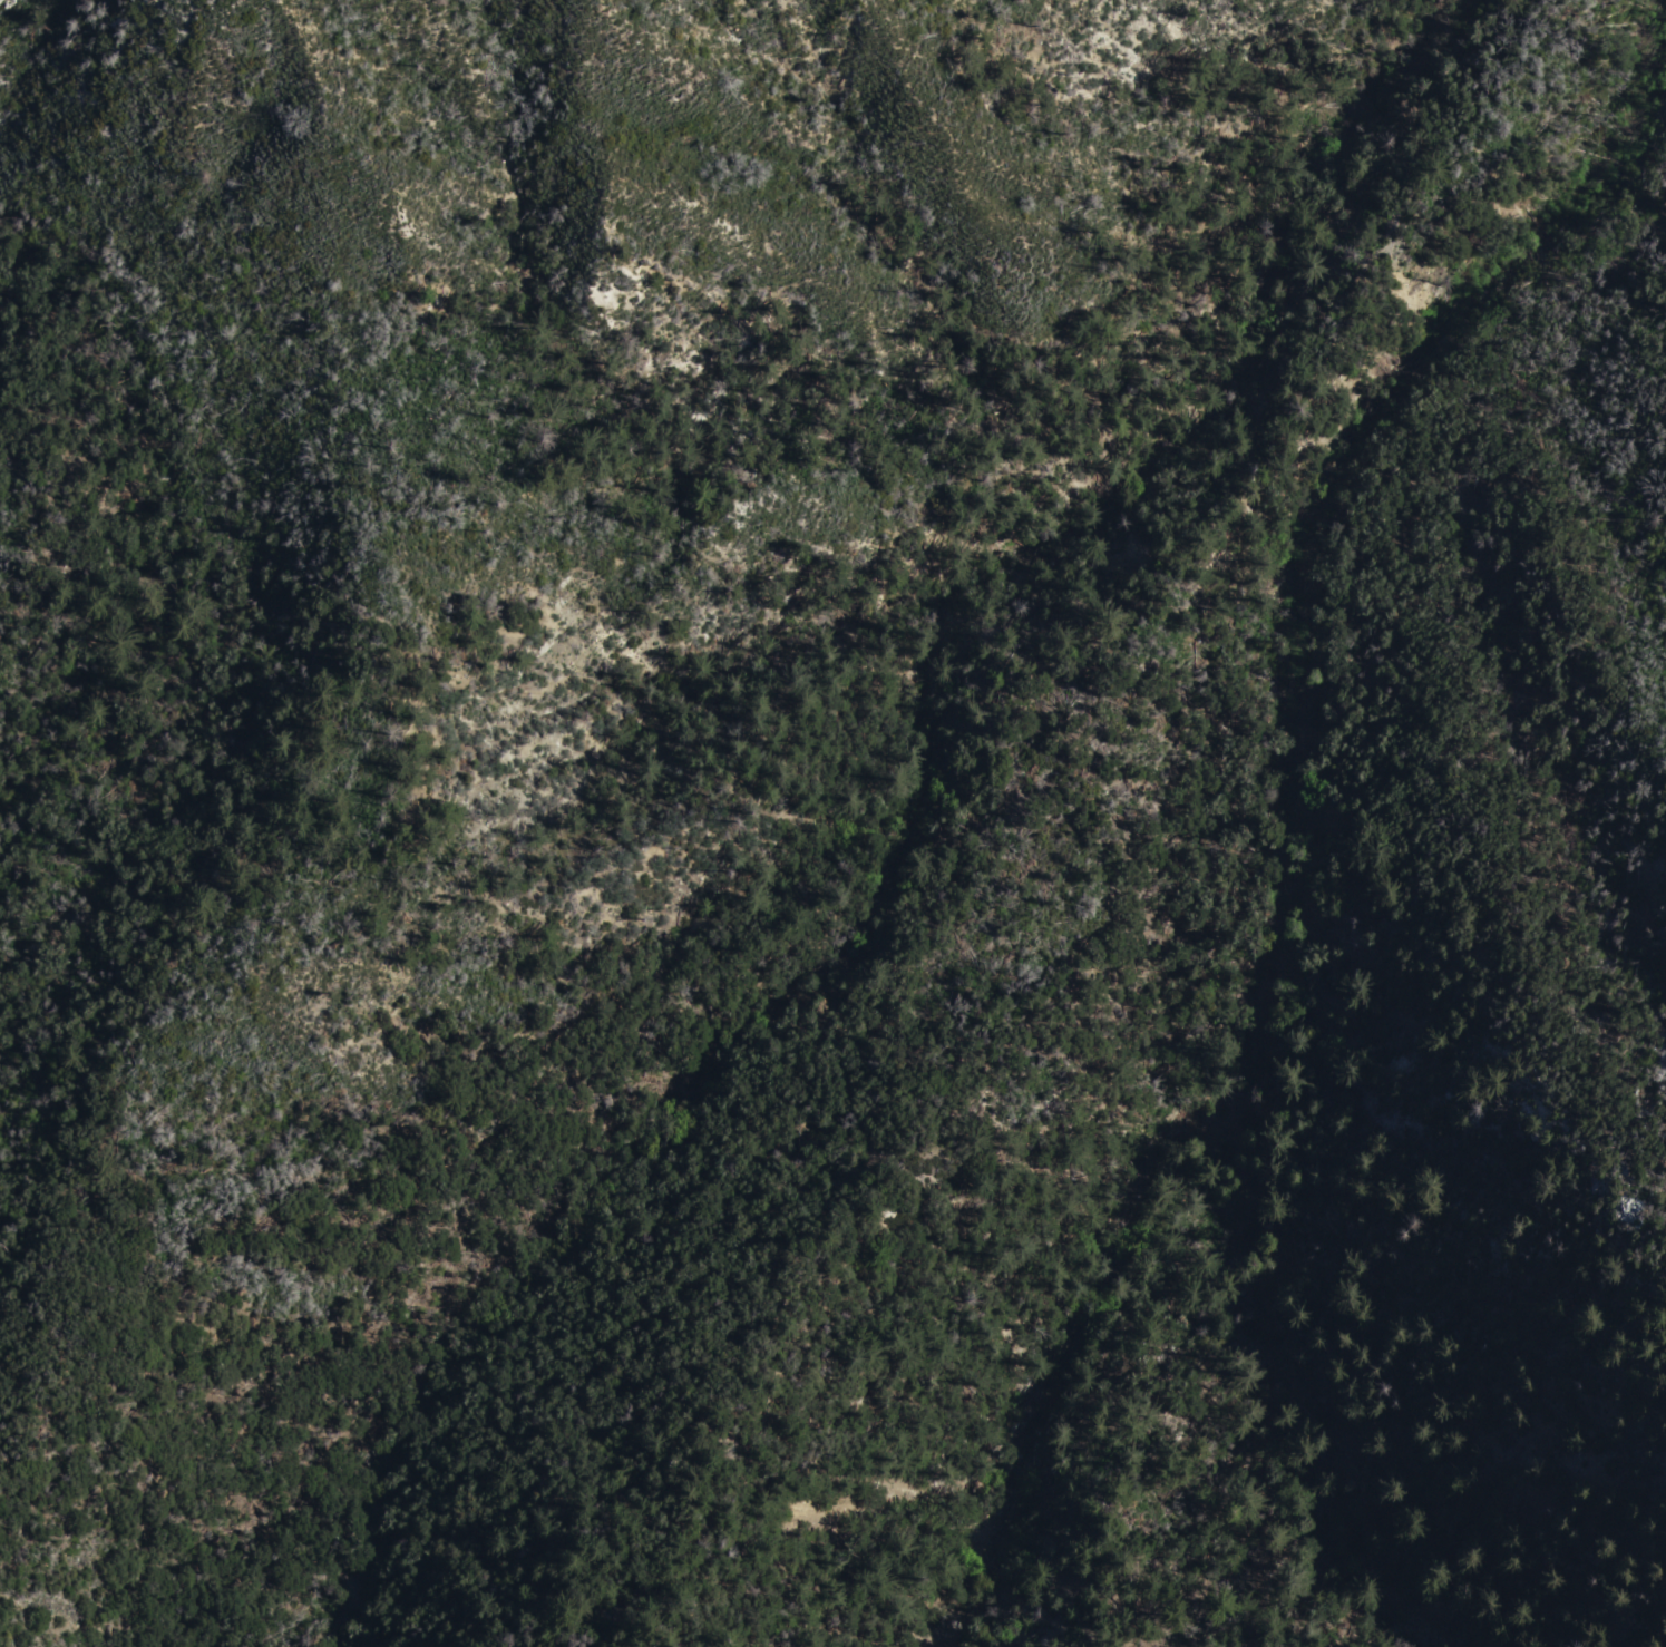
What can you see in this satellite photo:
road: (1196, 879)
road: (1658, 1538)

